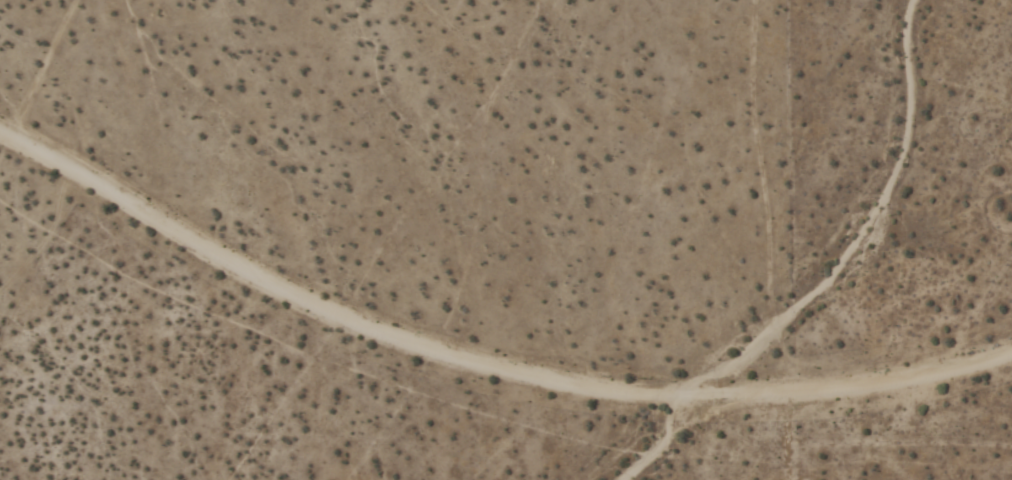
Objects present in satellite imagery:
road: (43, 71)
crop: (506, 240)
park: (850, 240)
road: (483, 367)

